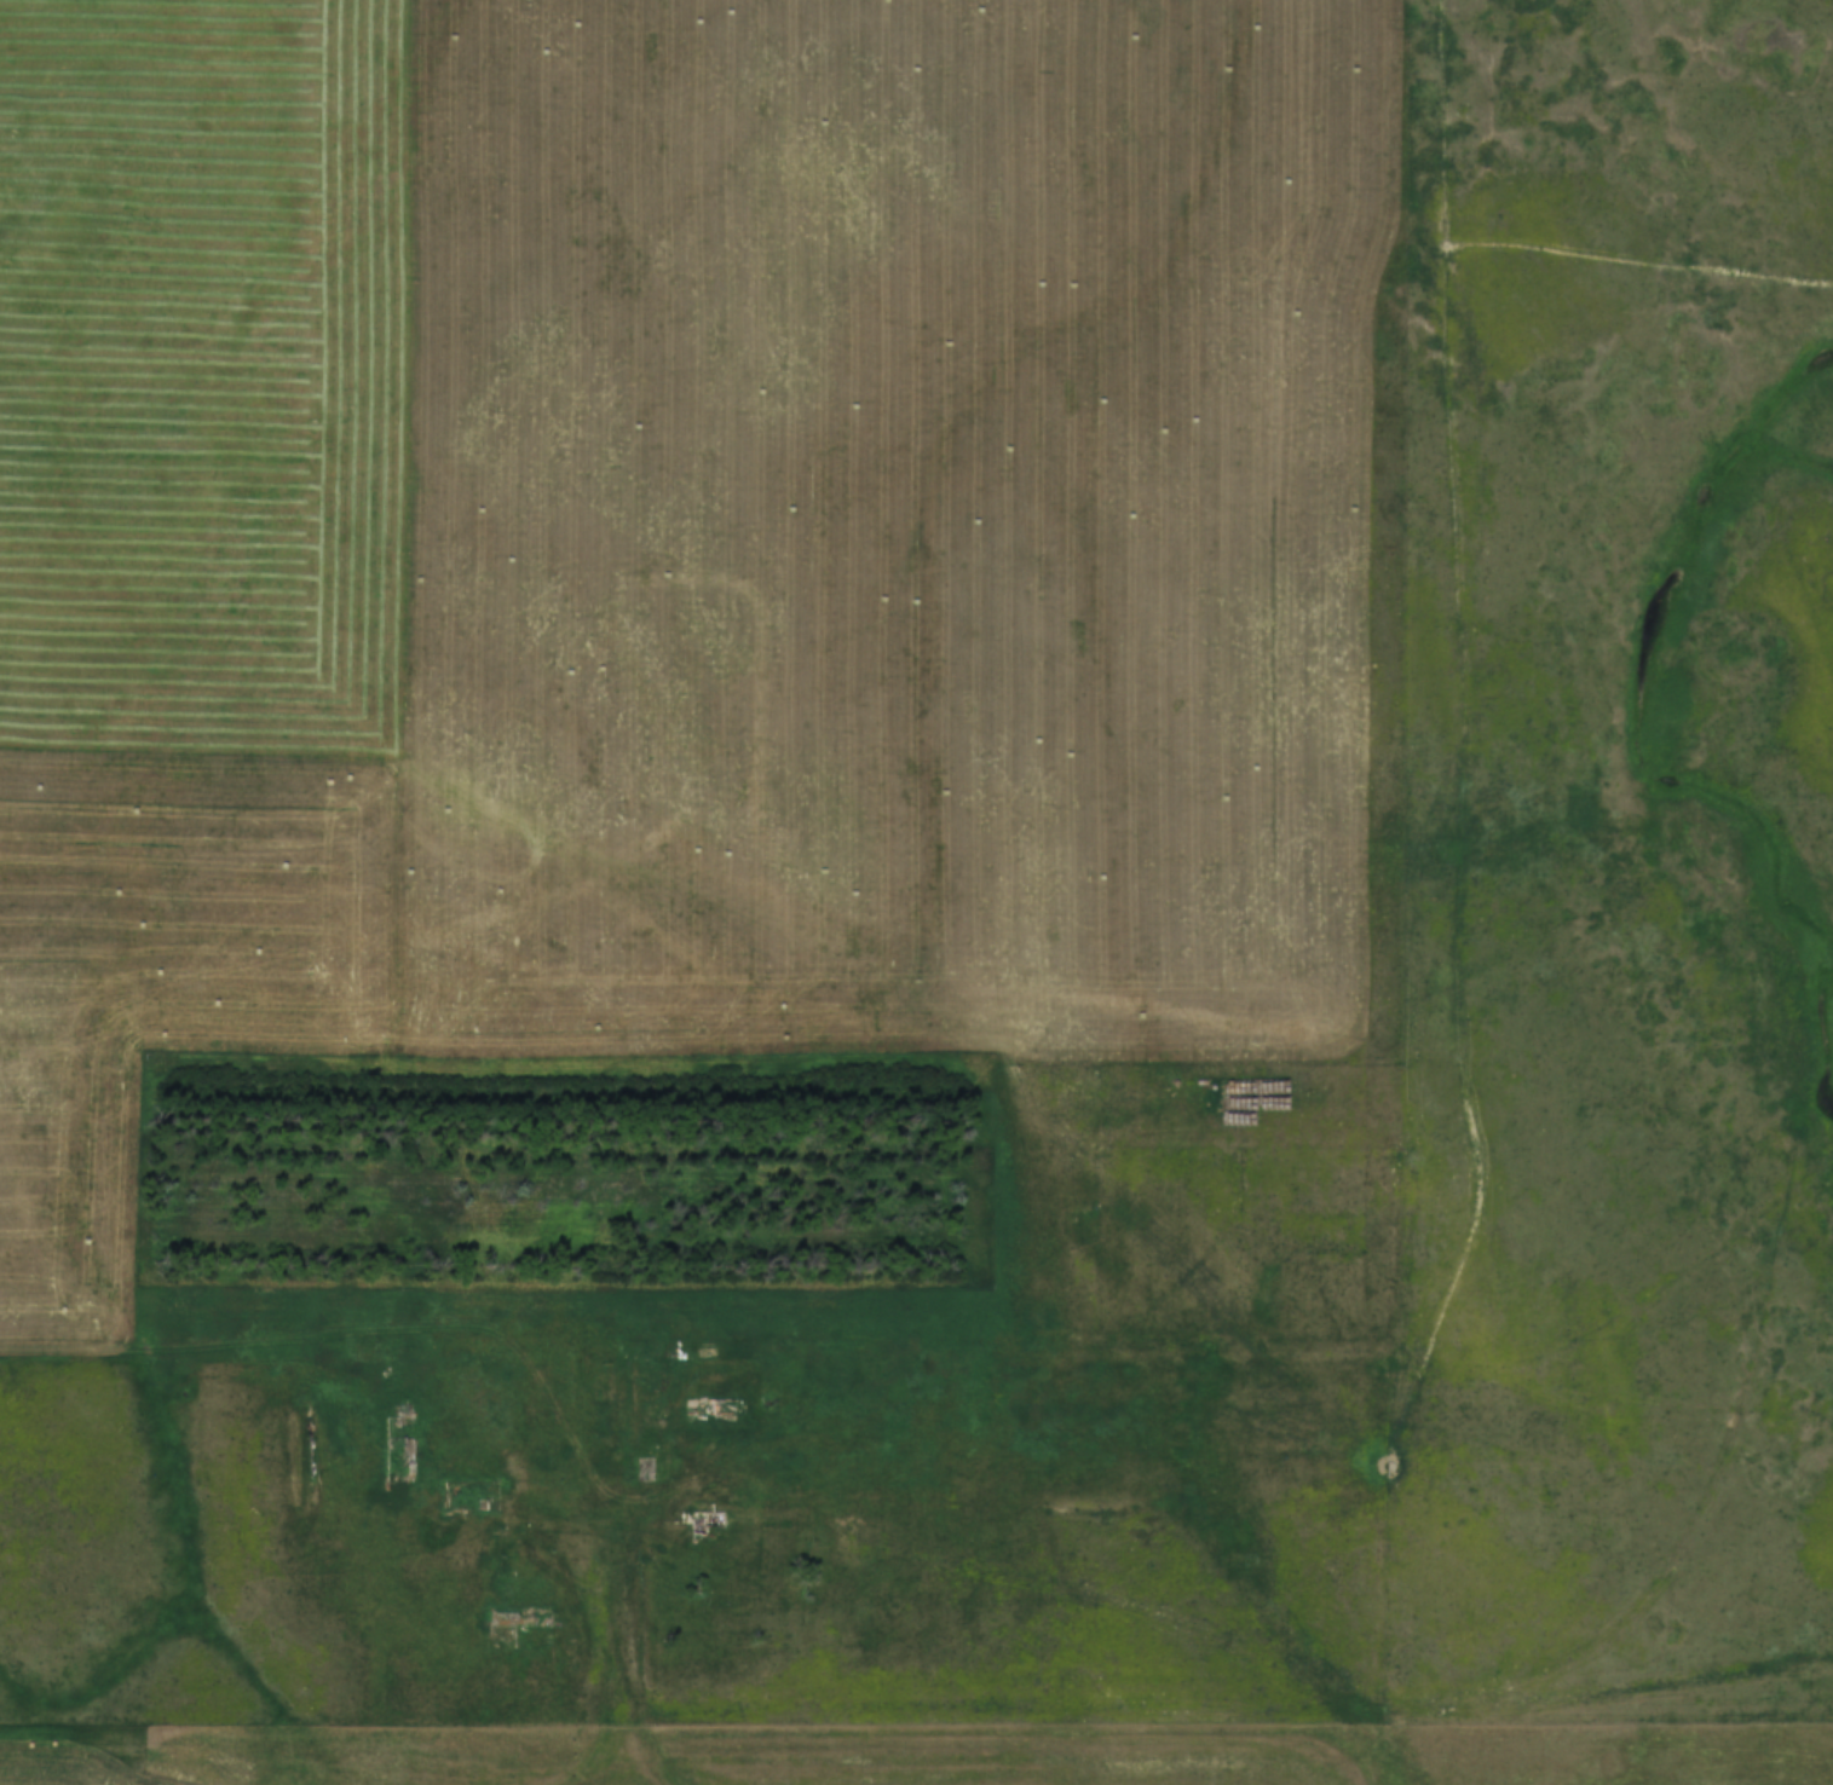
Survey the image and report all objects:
building: (694, 1398)
building: (707, 1408)
building: (407, 1429)
building: (396, 1440)
road: (122, 1758)
road: (634, 1768)

